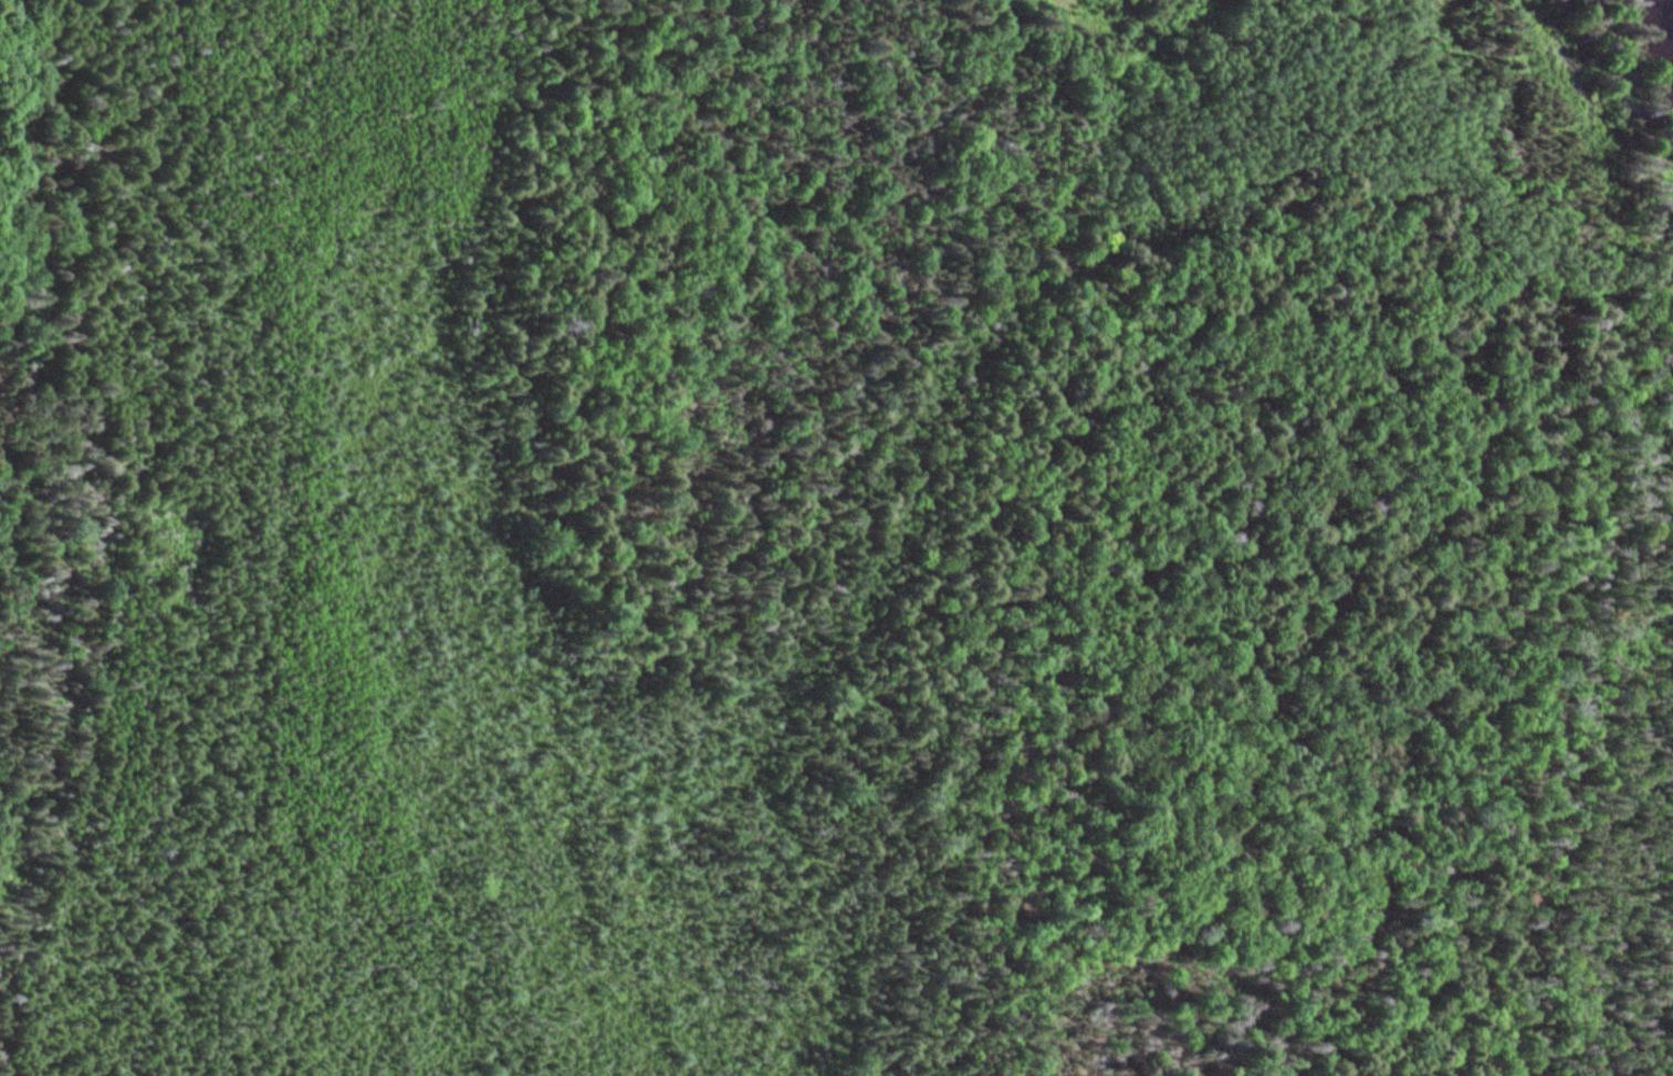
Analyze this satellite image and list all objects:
river: (1659, 46)

